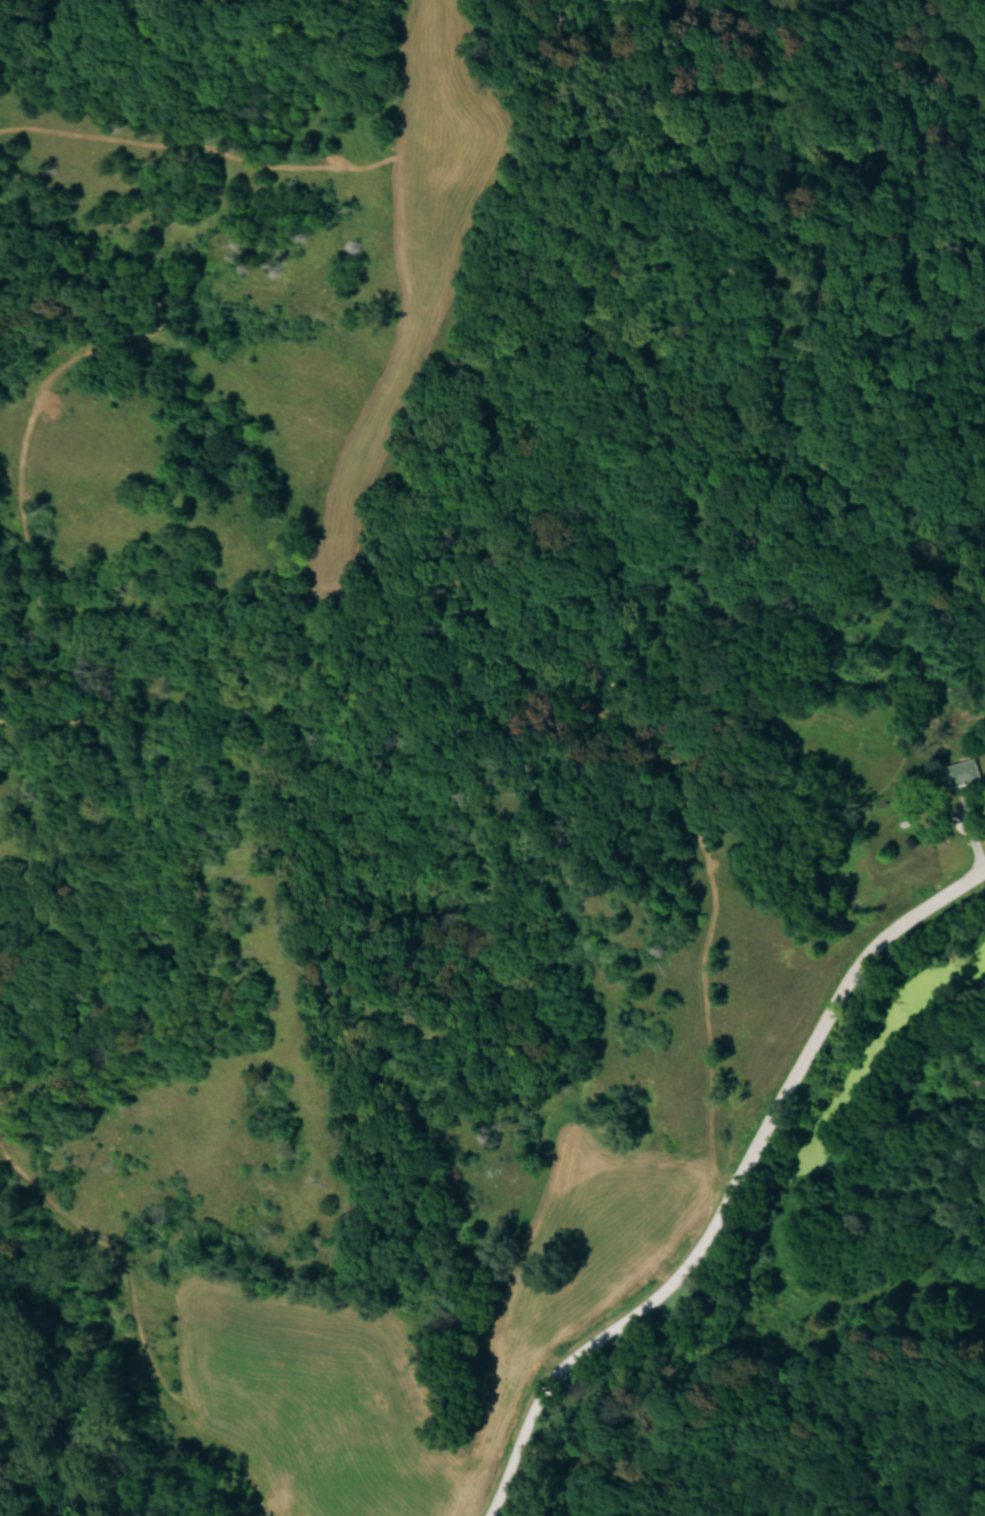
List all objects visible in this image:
building: (965, 770)
road: (733, 1190)

